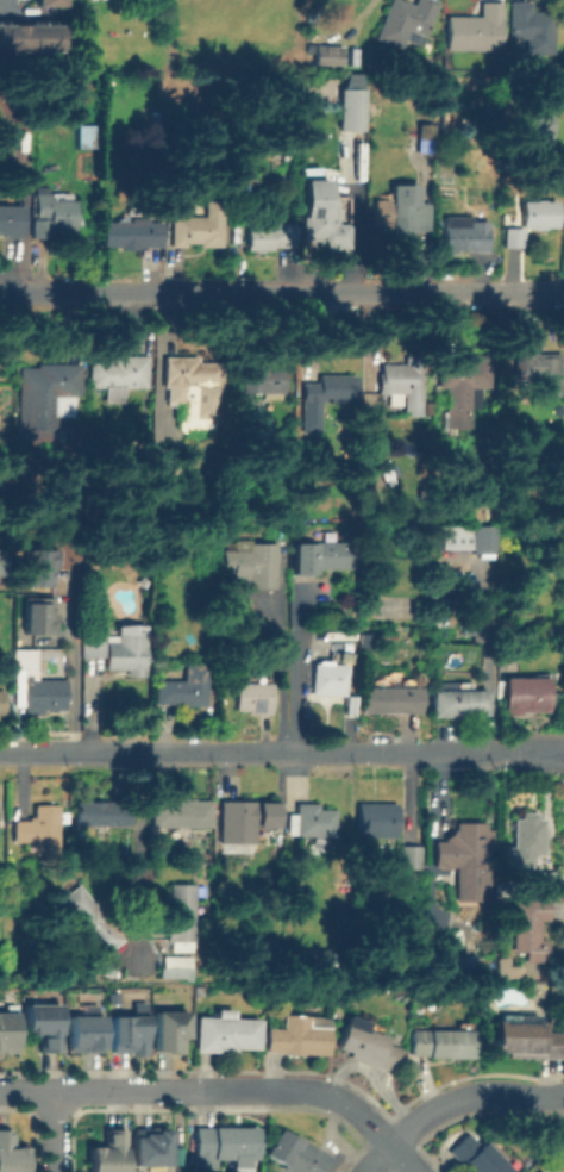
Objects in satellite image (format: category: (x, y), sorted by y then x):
building: (50, 2)
road: (4, 7)
road: (21, 14)
building: (406, 19)
building: (475, 27)
building: (532, 29)
building: (31, 37)
building: (327, 55)
building: (447, 58)
building: (87, 91)
building: (351, 110)
building: (13, 111)
building: (533, 120)
building: (152, 123)
building: (445, 123)
building: (425, 135)
building: (84, 136)
building: (286, 138)
building: (245, 181)
building: (55, 210)
building: (397, 211)
building: (317, 212)
building: (539, 212)
building: (11, 219)
building: (195, 225)
building: (39, 227)
building: (130, 232)
building: (267, 233)
building: (466, 233)
building: (514, 236)
road: (282, 298)
building: (535, 367)
building: (114, 375)
building: (264, 376)
building: (395, 376)
building: (326, 384)
building: (459, 384)
building: (44, 391)
building: (194, 391)
building: (140, 461)
building: (163, 466)
building: (472, 512)
road: (6, 529)
building: (483, 537)
building: (324, 555)
building: (0, 562)
building: (252, 562)
building: (36, 568)
building: (563, 599)
building: (38, 616)
building: (364, 642)
road: (282, 643)
building: (117, 649)
building: (328, 678)
building: (182, 685)
building: (38, 691)
building: (255, 693)
building: (524, 693)
road: (70, 696)
building: (390, 698)
building: (1, 699)
building: (457, 702)
road: (282, 753)
building: (101, 810)
building: (181, 811)
building: (376, 818)
building: (244, 821)
building: (314, 821)
building: (39, 829)
building: (528, 840)
road: (136, 855)
building: (411, 858)
building: (464, 860)
building: (544, 880)
building: (180, 912)
building: (88, 917)
building: (529, 924)
building: (317, 958)
building: (507, 967)
building: (175, 971)
building: (137, 1009)
building: (42, 1028)
building: (226, 1031)
building: (6, 1034)
building: (168, 1035)
building: (297, 1035)
building: (82, 1036)
building: (126, 1036)
building: (526, 1037)
building: (441, 1041)
building: (368, 1046)
road: (224, 1087)
road: (469, 1095)
road: (54, 1130)
building: (563, 1142)
building: (224, 1146)
building: (148, 1149)
building: (299, 1153)
building: (107, 1154)
building: (10, 1155)
building: (478, 1157)
road: (378, 1159)
building: (535, 1171)
building: (539, 1171)

